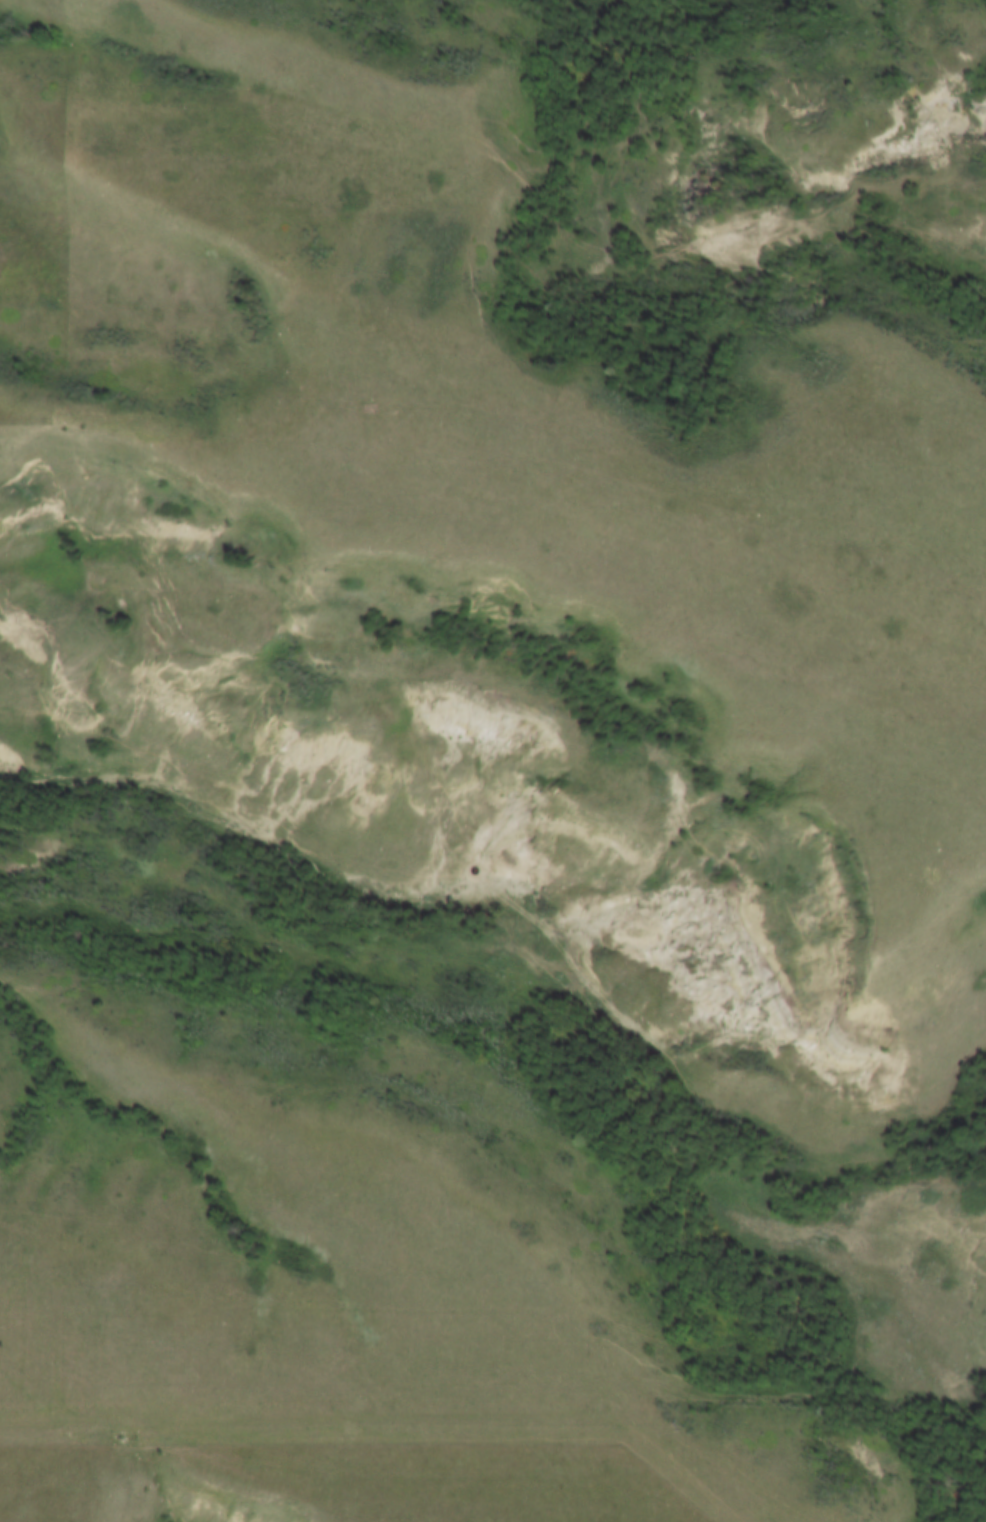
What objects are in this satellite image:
road: (385, 1439)

